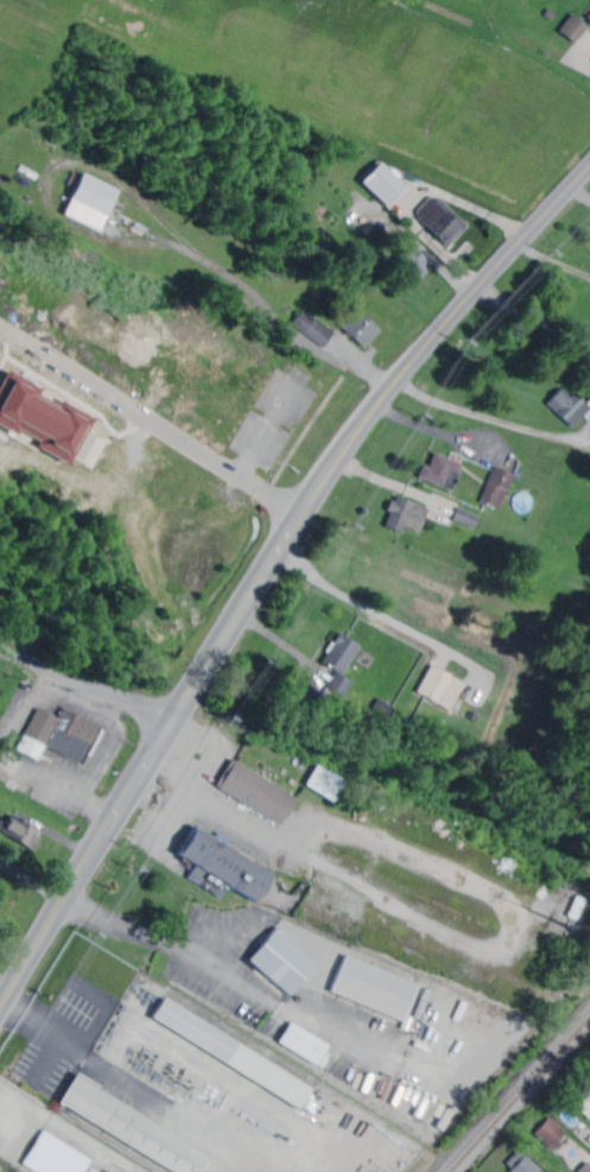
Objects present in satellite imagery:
building: (551, 14)
building: (589, 15)
building: (589, 23)
building: (573, 28)
building: (385, 184)
road: (579, 196)
building: (93, 198)
building: (442, 221)
building: (412, 261)
road: (552, 267)
road: (493, 273)
building: (361, 327)
building: (315, 329)
building: (569, 407)
road: (484, 412)
building: (40, 417)
road: (154, 420)
building: (440, 471)
building: (496, 488)
building: (399, 513)
building: (467, 517)
road: (363, 608)
road: (231, 638)
building: (341, 660)
road: (89, 685)
building: (439, 688)
building: (383, 708)
building: (59, 735)
building: (326, 784)
building: (256, 791)
building: (21, 831)
building: (221, 868)
building: (575, 908)
road: (36, 956)
building: (281, 963)
building: (373, 988)
road: (261, 990)
parking lot: (68, 1033)
building: (303, 1044)
building: (231, 1053)
railway: (520, 1095)
building: (582, 1098)
building: (131, 1126)
building: (551, 1132)
building: (56, 1157)
building: (527, 1165)
building: (585, 1167)
building: (90, 1170)
building: (107, 1171)

